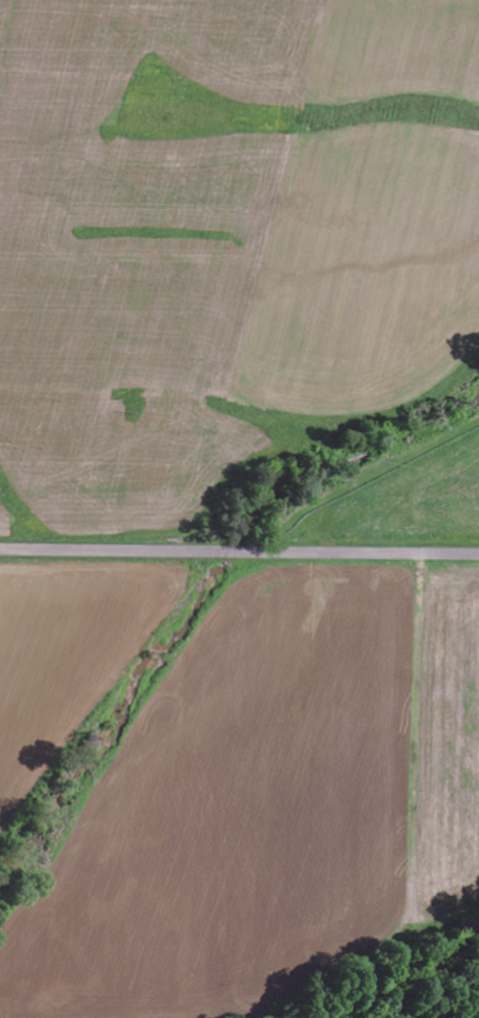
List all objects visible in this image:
road: (239, 552)

